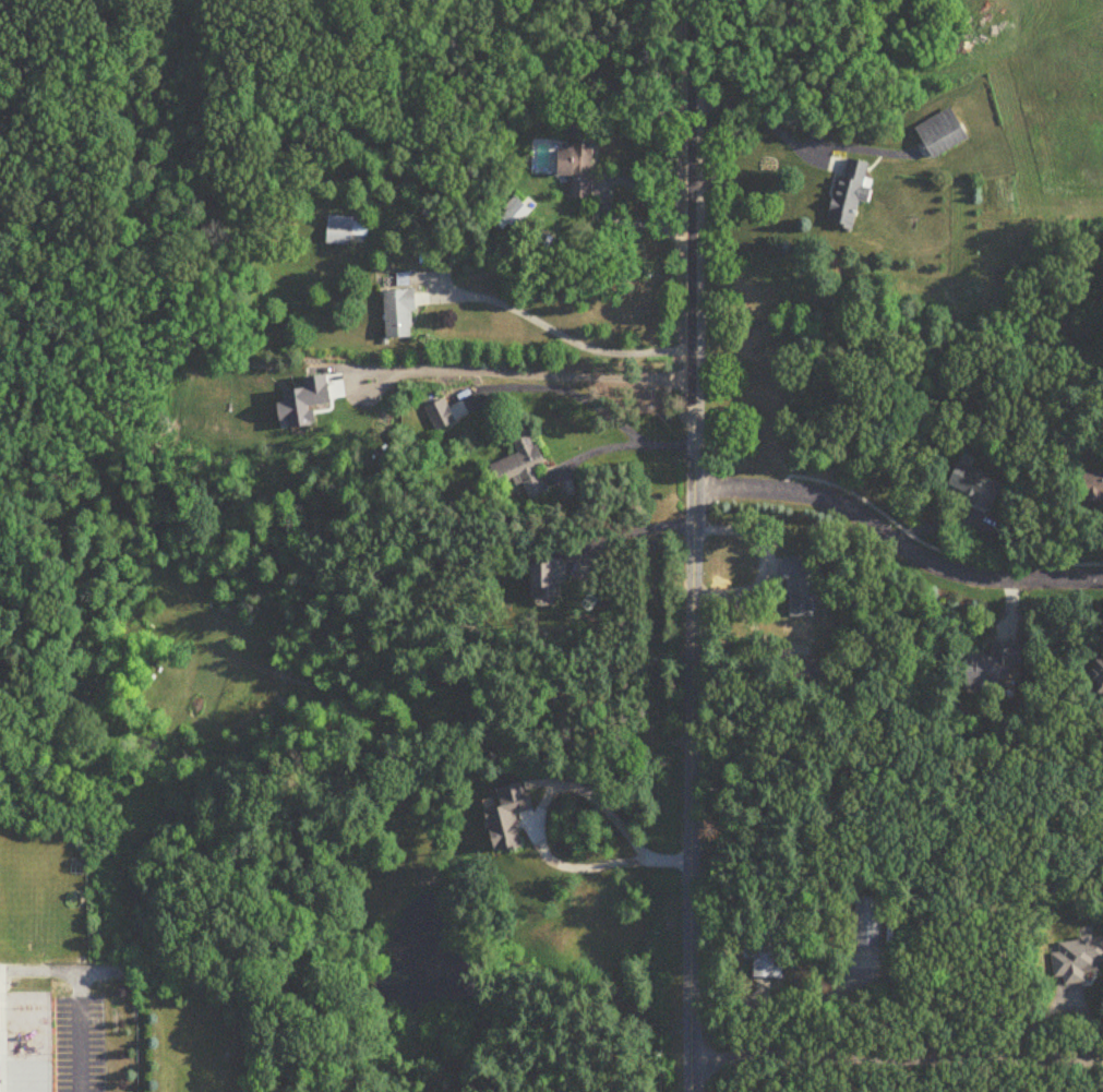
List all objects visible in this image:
road: (764, 118)
building: (944, 133)
building: (580, 163)
building: (851, 192)
building: (516, 215)
building: (346, 230)
building: (401, 314)
road: (566, 334)
road: (521, 371)
building: (442, 416)
road: (620, 444)
building: (525, 468)
building: (976, 485)
building: (1093, 485)
road: (630, 533)
road: (896, 541)
road: (696, 545)
building: (551, 578)
building: (800, 587)
building: (999, 665)
building: (1100, 676)
road: (554, 788)
building: (514, 818)
park: (46, 896)
building: (871, 923)
building: (765, 959)
building: (1079, 961)
road: (77, 1030)
road: (899, 1059)

